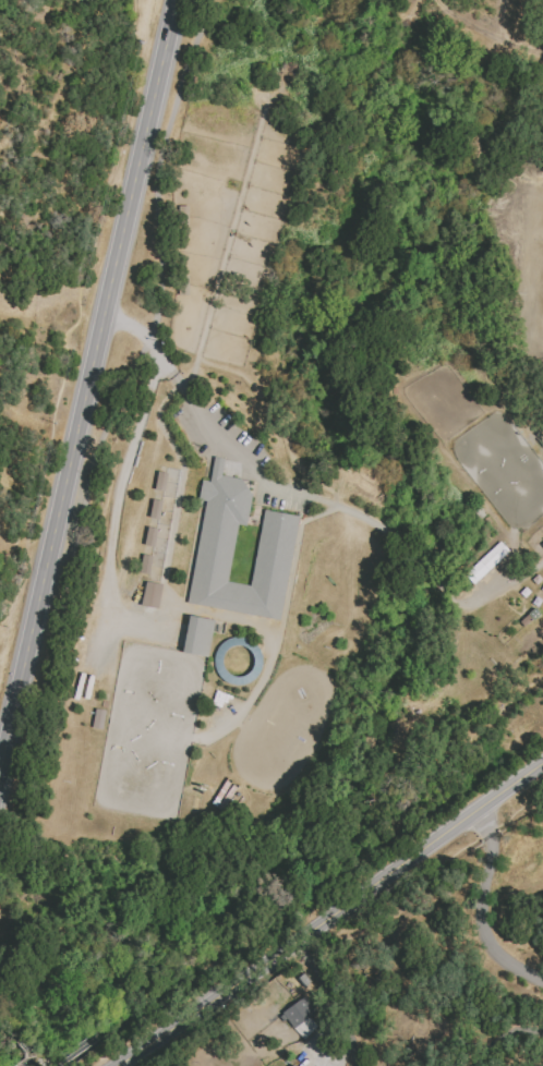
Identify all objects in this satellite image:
crop: (458, 19)
road: (93, 375)
building: (535, 422)
road: (102, 437)
road: (225, 444)
park: (503, 469)
building: (161, 477)
building: (156, 506)
road: (114, 508)
building: (150, 535)
building: (542, 545)
building: (279, 557)
building: (146, 567)
building: (482, 568)
road: (517, 582)
building: (150, 594)
building: (200, 638)
building: (97, 718)
park: (281, 728)
building: (443, 729)
park: (150, 732)
building: (411, 746)
building: (382, 796)
road: (421, 874)
road: (481, 906)
road: (329, 916)
building: (302, 980)
road: (331, 1000)
building: (298, 1012)
road: (504, 1035)
building: (291, 1065)

